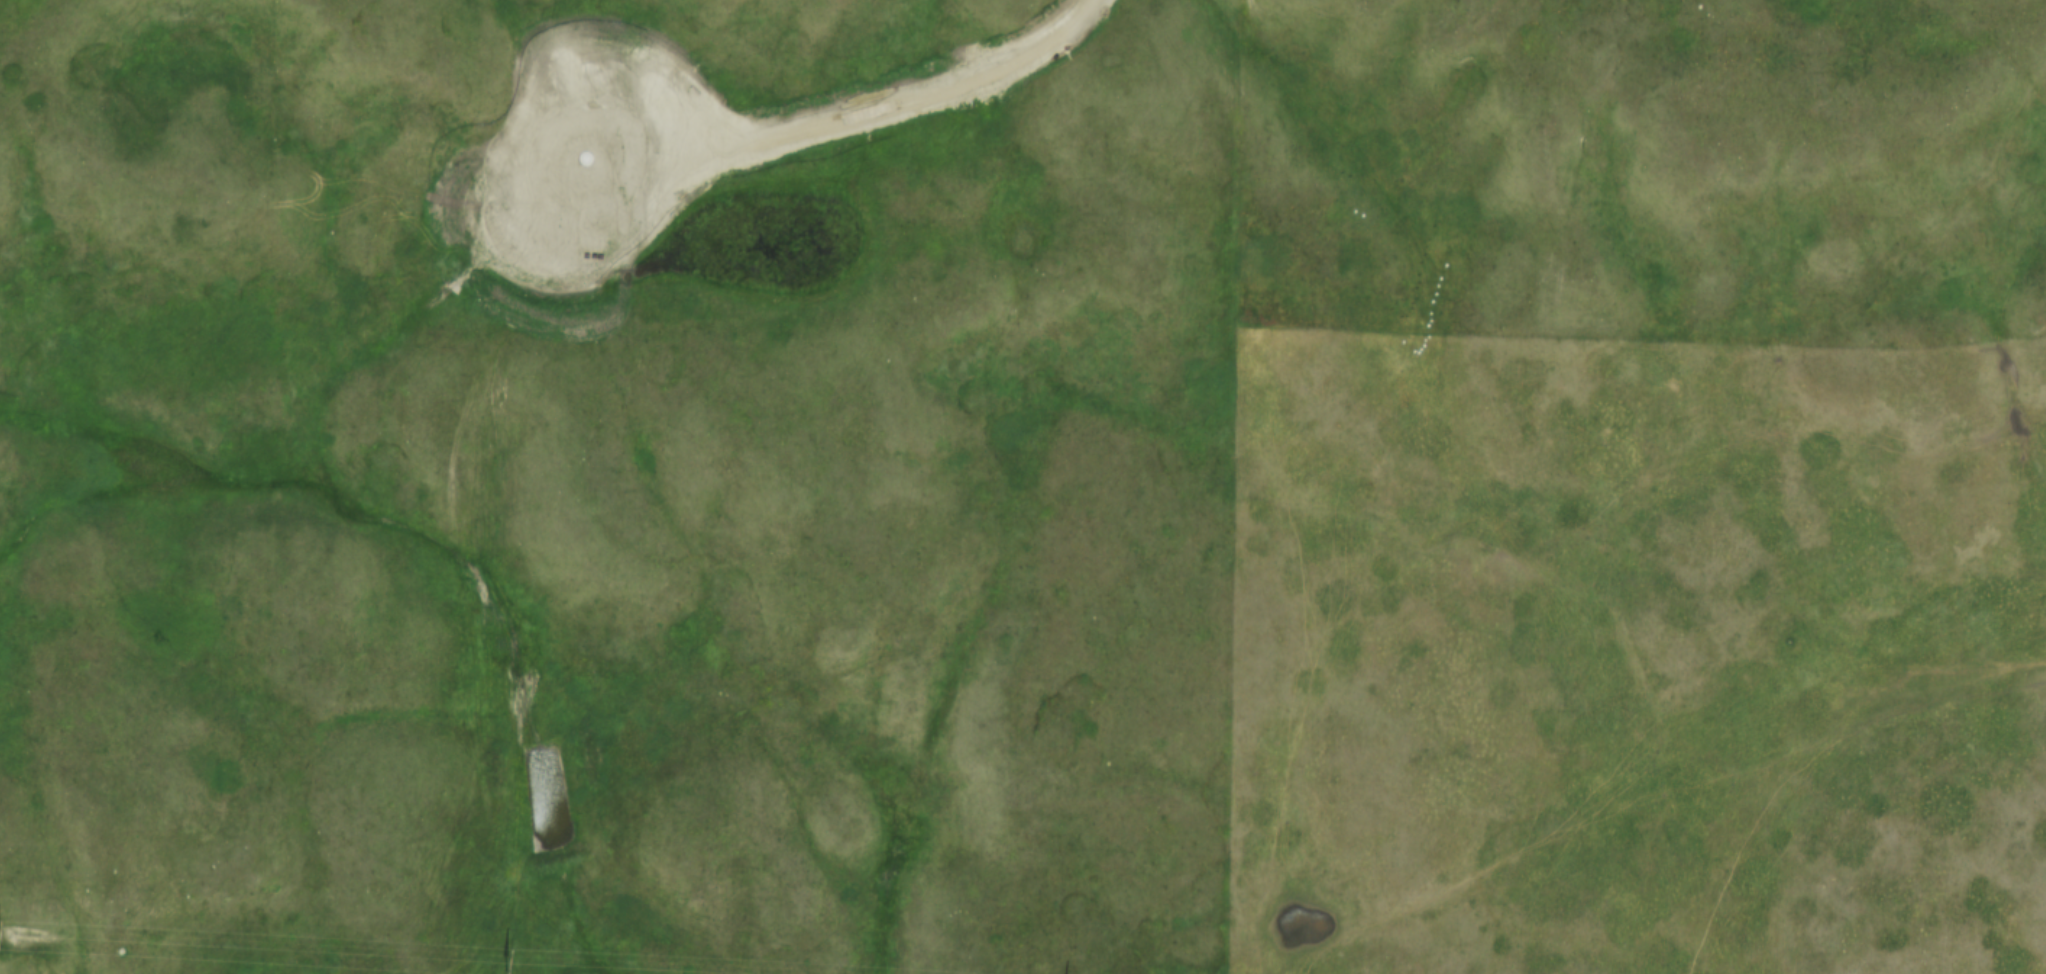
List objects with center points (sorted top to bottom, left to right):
wind turbine: (583, 155)

